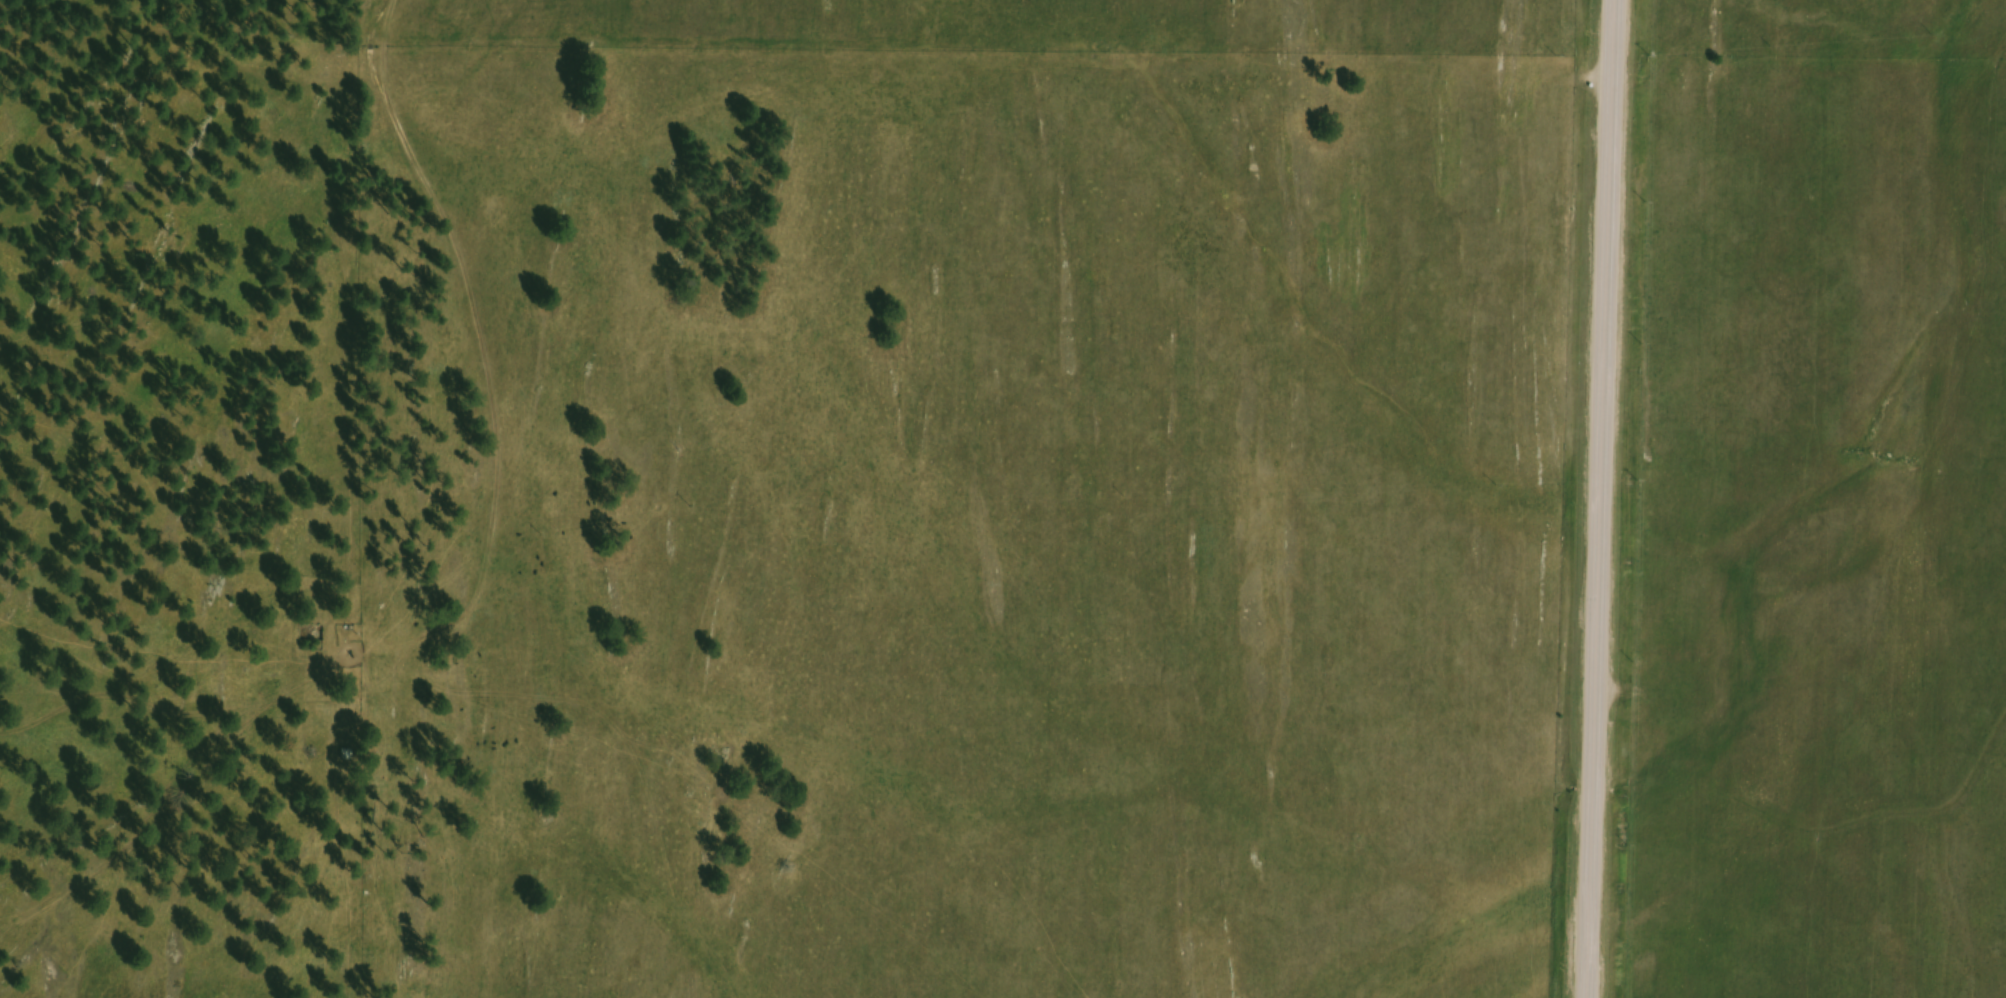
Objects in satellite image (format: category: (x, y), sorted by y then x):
road: (1601, 499)

